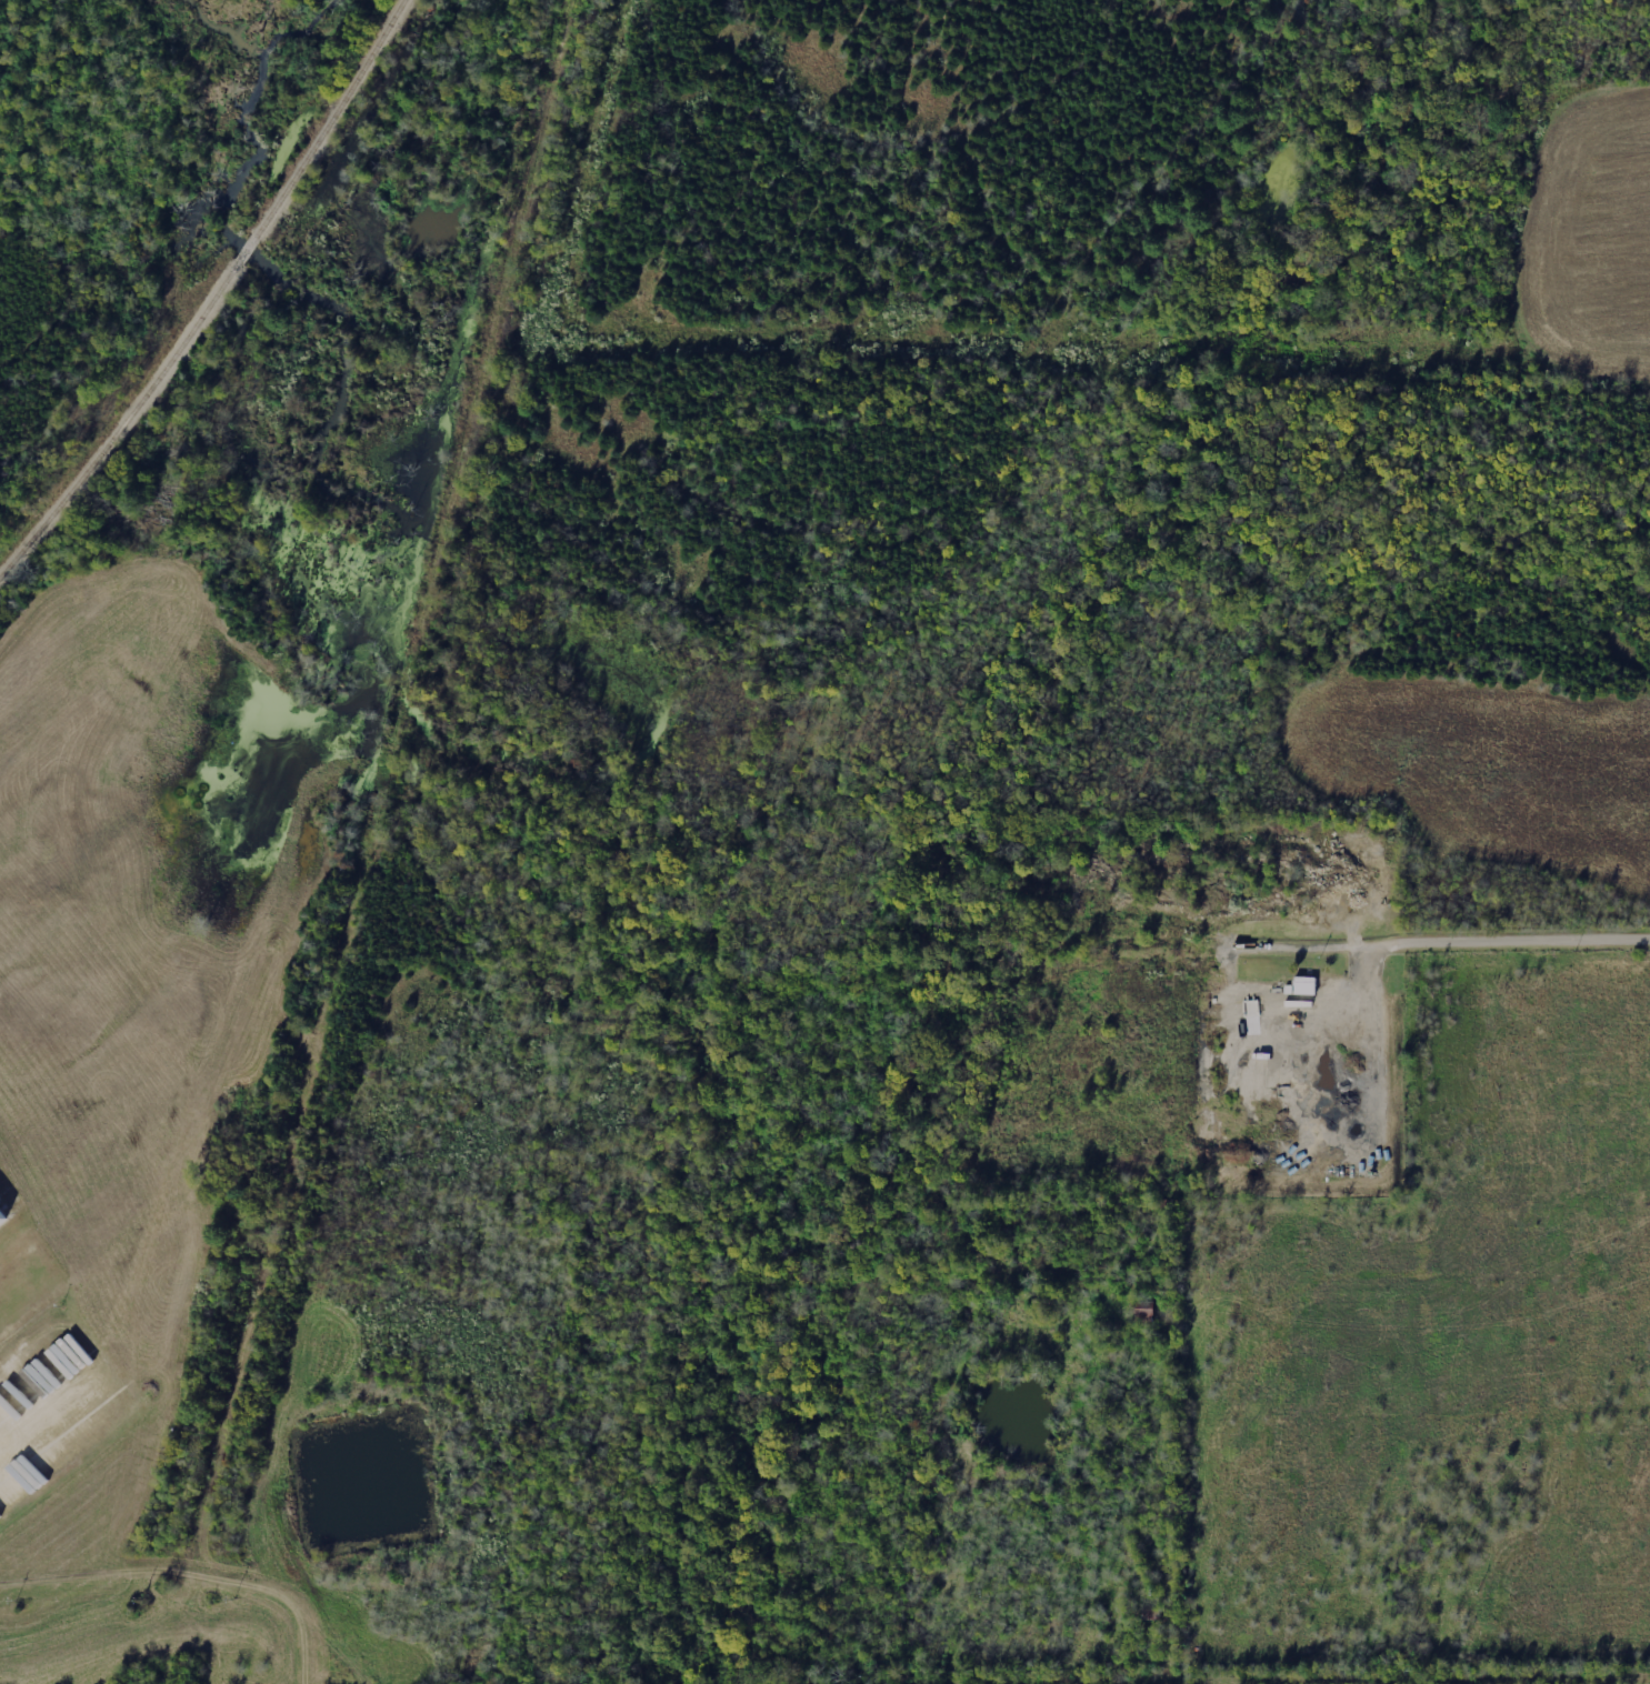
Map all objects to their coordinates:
railway: (212, 294)
road: (1511, 944)
building: (1303, 986)
railway: (299, 1170)
building: (3, 1214)
building: (1, 1517)

